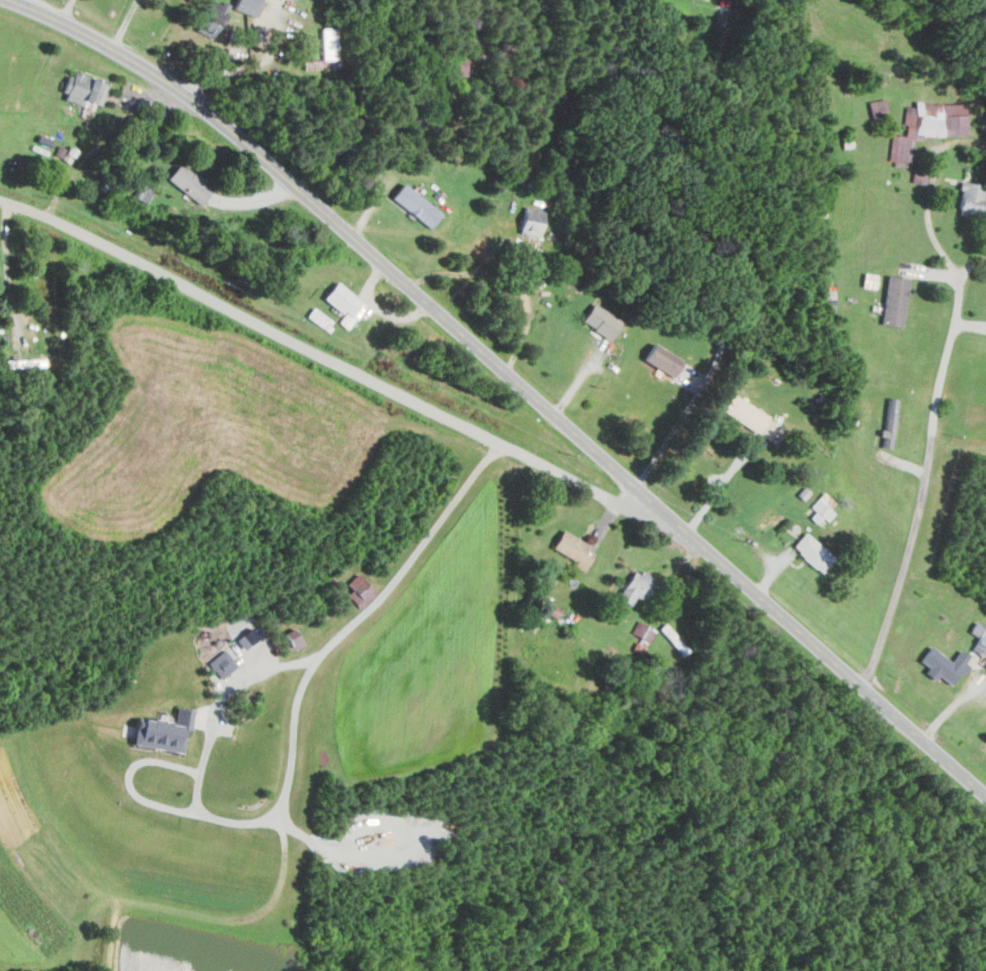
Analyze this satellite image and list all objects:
building: (246, 6)
building: (211, 18)
building: (329, 42)
building: (459, 67)
building: (84, 89)
building: (878, 107)
building: (927, 125)
building: (188, 182)
building: (141, 191)
building: (970, 198)
building: (415, 204)
building: (531, 220)
road: (137, 264)
building: (894, 299)
building: (344, 303)
building: (319, 318)
building: (601, 320)
building: (662, 359)
building: (24, 362)
road: (513, 378)
building: (752, 417)
building: (889, 422)
road: (470, 431)
road: (931, 474)
building: (822, 508)
building: (740, 529)
building: (573, 548)
building: (812, 552)
building: (635, 586)
building: (359, 590)
building: (552, 610)
building: (642, 630)
building: (293, 638)
building: (981, 643)
building: (221, 663)
building: (944, 664)
building: (162, 731)

